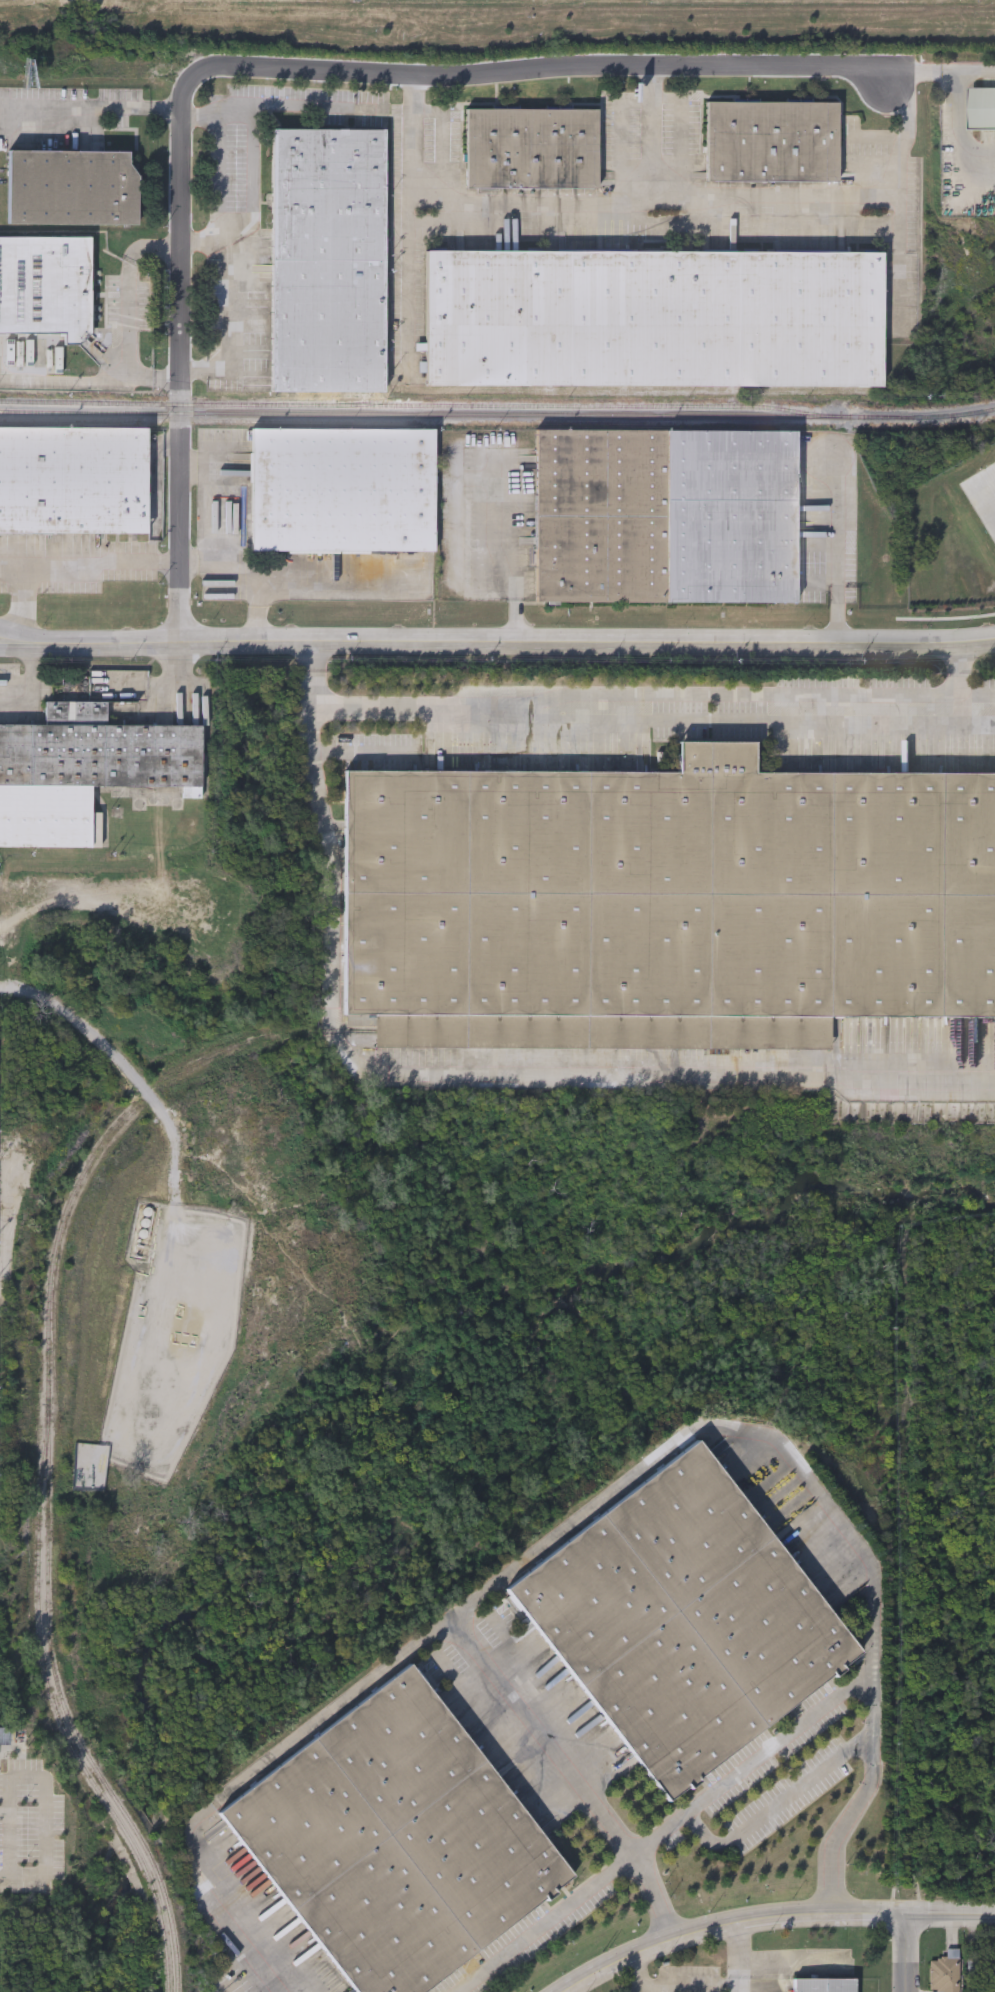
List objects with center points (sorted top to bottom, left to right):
road: (252, 68)
road: (918, 74)
road: (974, 74)
road: (93, 105)
building: (982, 109)
road: (199, 117)
road: (620, 134)
road: (650, 135)
road: (955, 141)
building: (772, 142)
building: (532, 149)
road: (251, 181)
road: (218, 186)
building: (71, 188)
road: (651, 204)
road: (899, 204)
road: (408, 225)
road: (209, 240)
building: (329, 263)
building: (46, 288)
road: (130, 312)
building: (653, 321)
road: (69, 384)
railway: (423, 402)
railway: (497, 415)
railway: (89, 425)
building: (73, 481)
building: (341, 489)
road: (218, 515)
building: (663, 518)
road: (498, 546)
road: (837, 550)
road: (107, 562)
road: (28, 591)
road: (259, 593)
road: (15, 640)
road: (512, 645)
road: (29, 680)
road: (673, 718)
road: (979, 723)
building: (82, 771)
building: (666, 905)
road: (461, 1076)
railway: (49, 1421)
road: (690, 1434)
building: (680, 1622)
railway: (57, 1710)
road: (754, 1765)
road: (44, 1778)
road: (245, 1781)
road: (778, 1805)
building: (393, 1842)
road: (5, 1881)
road: (582, 1896)
road: (948, 1913)
road: (726, 1923)
road: (741, 1942)
road: (901, 1952)
road: (792, 1964)
building: (980, 1966)
building: (942, 1975)
road: (741, 1978)
building: (823, 1985)

